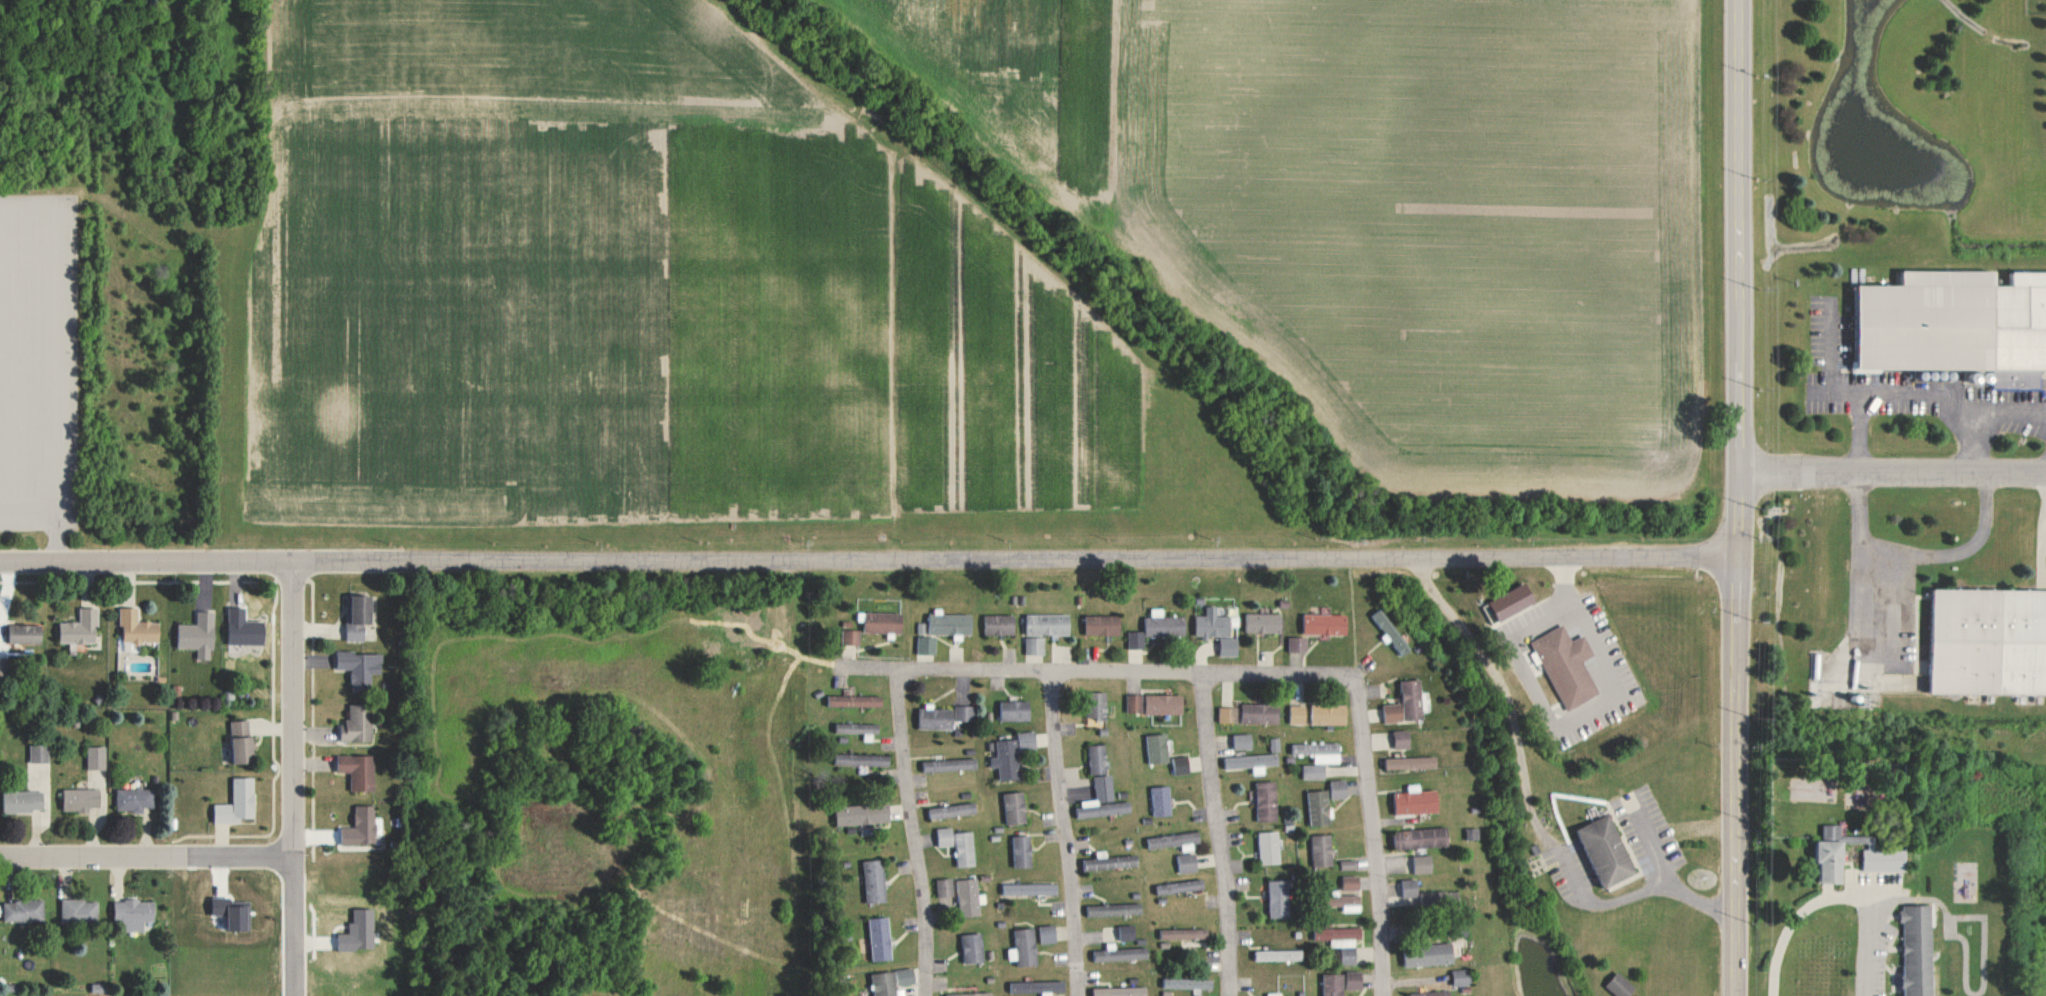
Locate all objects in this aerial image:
building: (1952, 331)
road: (1891, 472)
road: (1737, 498)
road: (867, 560)
building: (1497, 610)
building: (359, 616)
building: (884, 622)
building: (1263, 623)
building: (951, 624)
building: (1163, 624)
building: (1326, 624)
building: (1000, 625)
building: (1048, 625)
building: (1103, 625)
building: (81, 628)
building: (246, 629)
building: (138, 630)
building: (1216, 630)
building: (1310, 630)
building: (1390, 633)
building: (27, 634)
building: (199, 635)
building: (851, 637)
building: (1135, 640)
building: (1298, 644)
building: (926, 645)
building: (1035, 646)
building: (1982, 650)
building: (1568, 665)
building: (361, 668)
road: (1131, 672)
building: (1412, 700)
building: (857, 701)
building: (1134, 703)
building: (1165, 704)
building: (1098, 705)
building: (1014, 711)
building: (964, 713)
building: (1261, 713)
building: (1393, 713)
building: (1298, 714)
building: (1329, 714)
building: (1227, 715)
building: (935, 718)
building: (359, 724)
building: (857, 728)
building: (1402, 739)
building: (1027, 740)
building: (1242, 741)
building: (244, 743)
building: (1274, 745)
building: (1158, 748)
building: (40, 754)
road: (902, 755)
road: (1371, 757)
building: (97, 758)
building: (1318, 758)
building: (1098, 759)
building: (1007, 760)
building: (866, 761)
building: (1251, 762)
building: (1412, 763)
building: (951, 764)
building: (1182, 765)
building: (360, 771)
road: (292, 779)
building: (1337, 789)
building: (82, 800)
building: (135, 800)
building: (1103, 800)
building: (25, 801)
building: (1266, 801)
building: (1417, 801)
building: (238, 803)
building: (1015, 808)
building: (1318, 808)
building: (954, 810)
building: (863, 814)
building: (362, 828)
road: (1220, 833)
building: (1471, 834)
road: (1068, 835)
building: (1421, 838)
building: (1177, 840)
building: (959, 845)
building: (1269, 847)
building: (1023, 851)
building: (1321, 851)
building: (1608, 851)
building: (1833, 854)
road: (146, 855)
building: (1881, 856)
building: (1110, 861)
building: (1188, 862)
building: (1422, 864)
building: (1348, 865)
building: (876, 881)
building: (1351, 883)
building: (1181, 886)
building: (1409, 887)
building: (944, 888)
building: (1032, 889)
road: (1883, 894)
road: (1838, 895)
building: (970, 898)
building: (1279, 899)
building: (1349, 902)
building: (1116, 909)
building: (25, 911)
building: (80, 911)
building: (233, 913)
building: (135, 914)
building: (1128, 933)
building: (1049, 934)
building: (1186, 934)
building: (881, 939)
building: (1341, 941)
building: (974, 948)
building: (1025, 948)
building: (1920, 950)
building: (1120, 954)
building: (1278, 955)
building: (1430, 955)
building: (905, 976)
building: (1462, 977)
building: (1355, 980)
building: (1188, 983)
building: (885, 984)
building: (1334, 984)
building: (1622, 986)
building: (1039, 987)
building: (1121, 991)
building: (1433, 993)
building: (972, 994)
building: (1275, 994)

